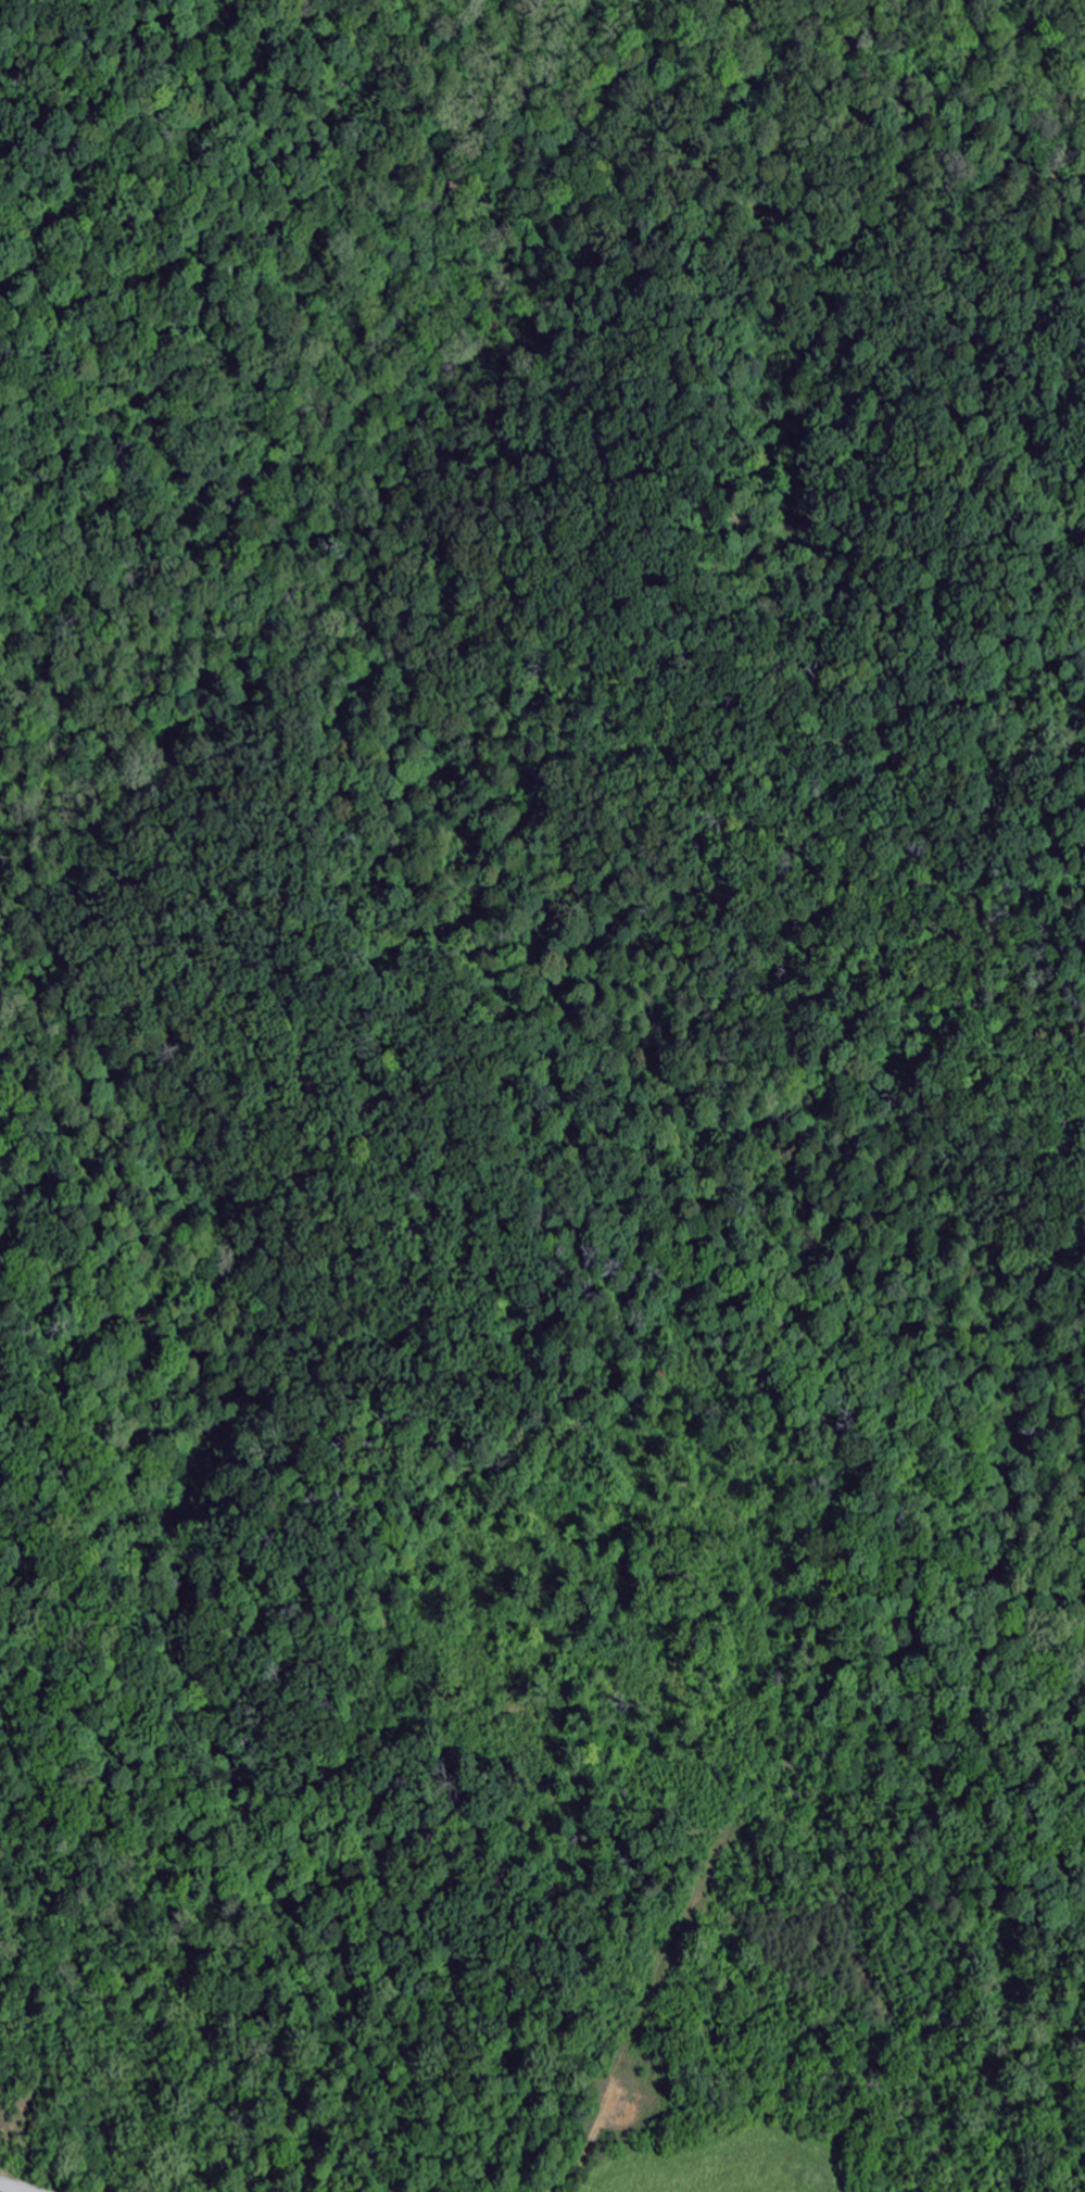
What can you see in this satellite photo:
road: (4, 2190)

